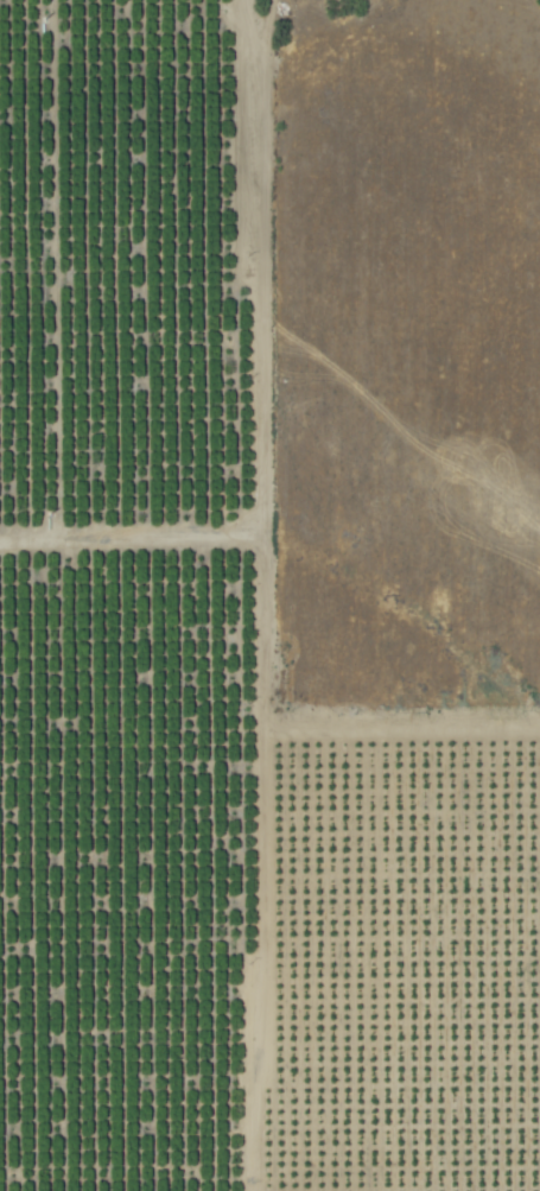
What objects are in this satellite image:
road: (263, 595)

